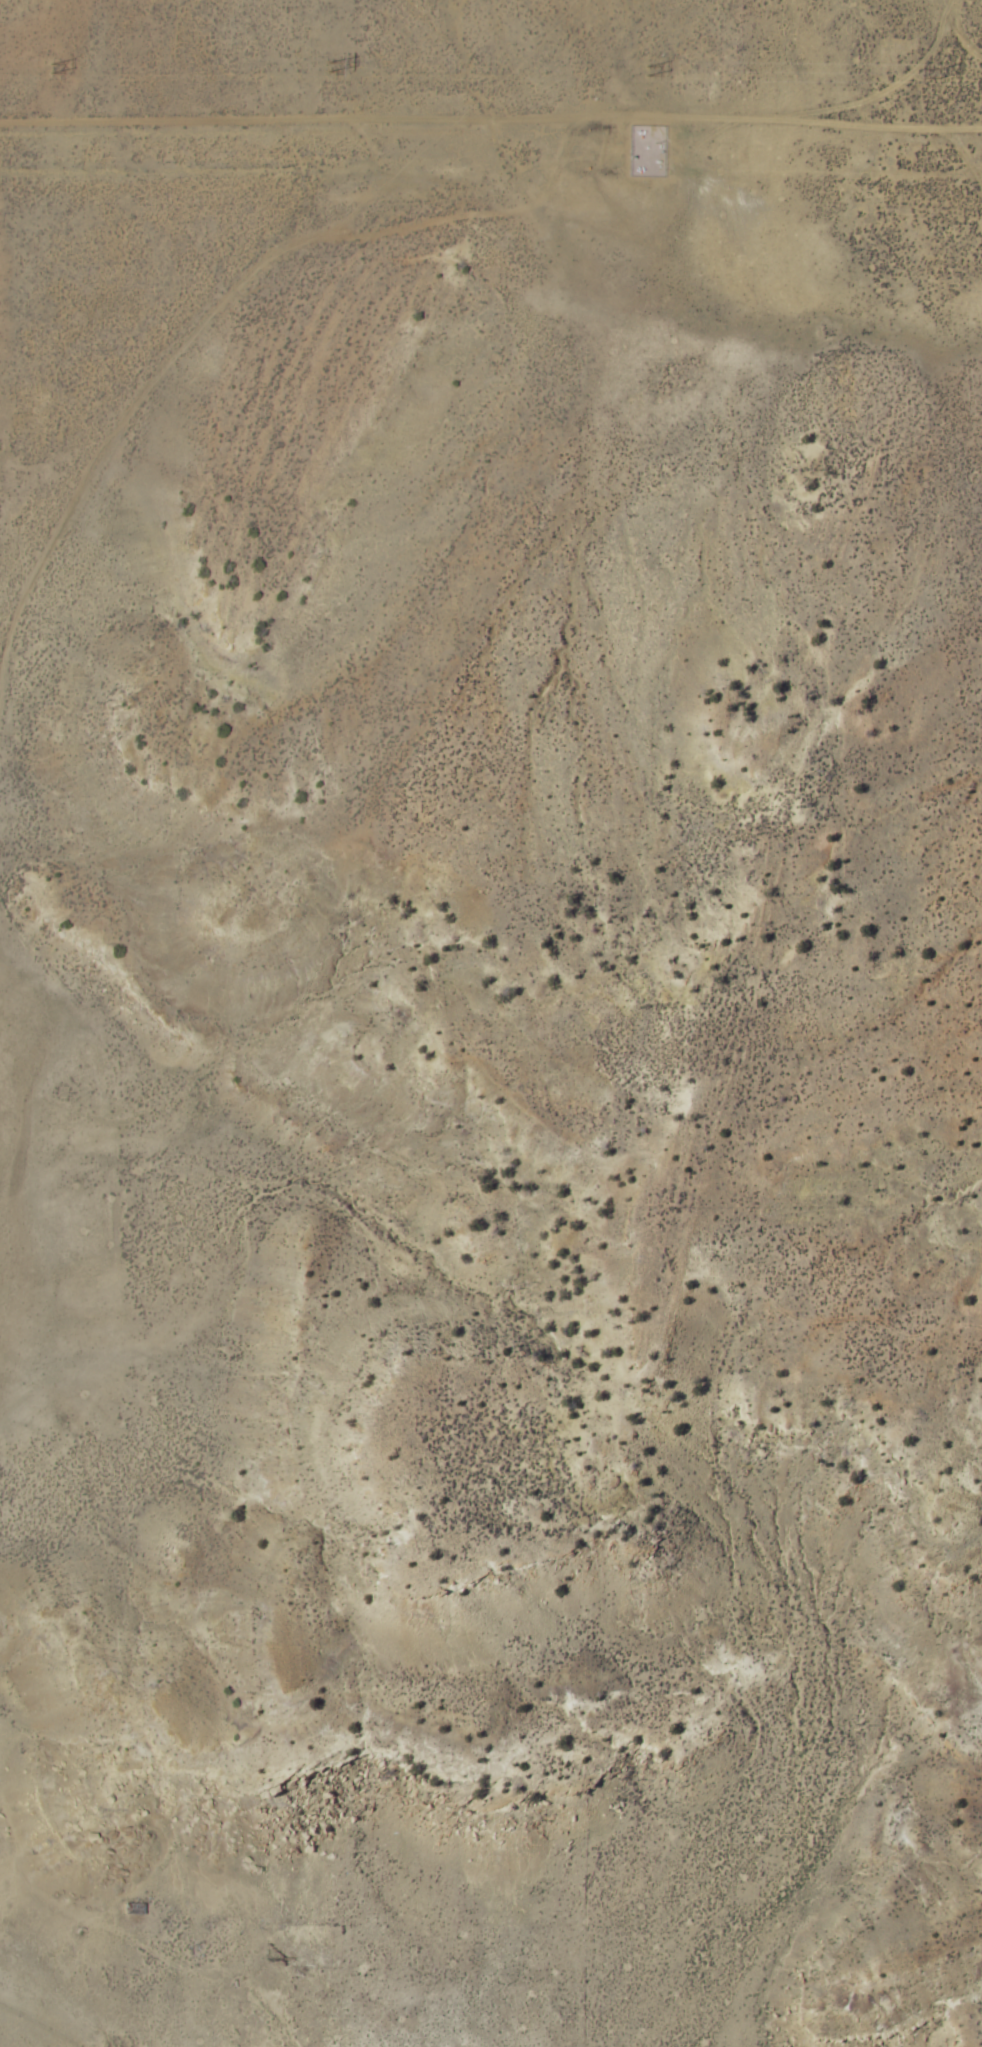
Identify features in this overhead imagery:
power tower: (319, 69)
power tower: (933, 75)
road: (938, 78)
road: (379, 207)
road: (132, 1313)
road: (160, 1949)
road: (83, 2006)
road: (168, 2020)

